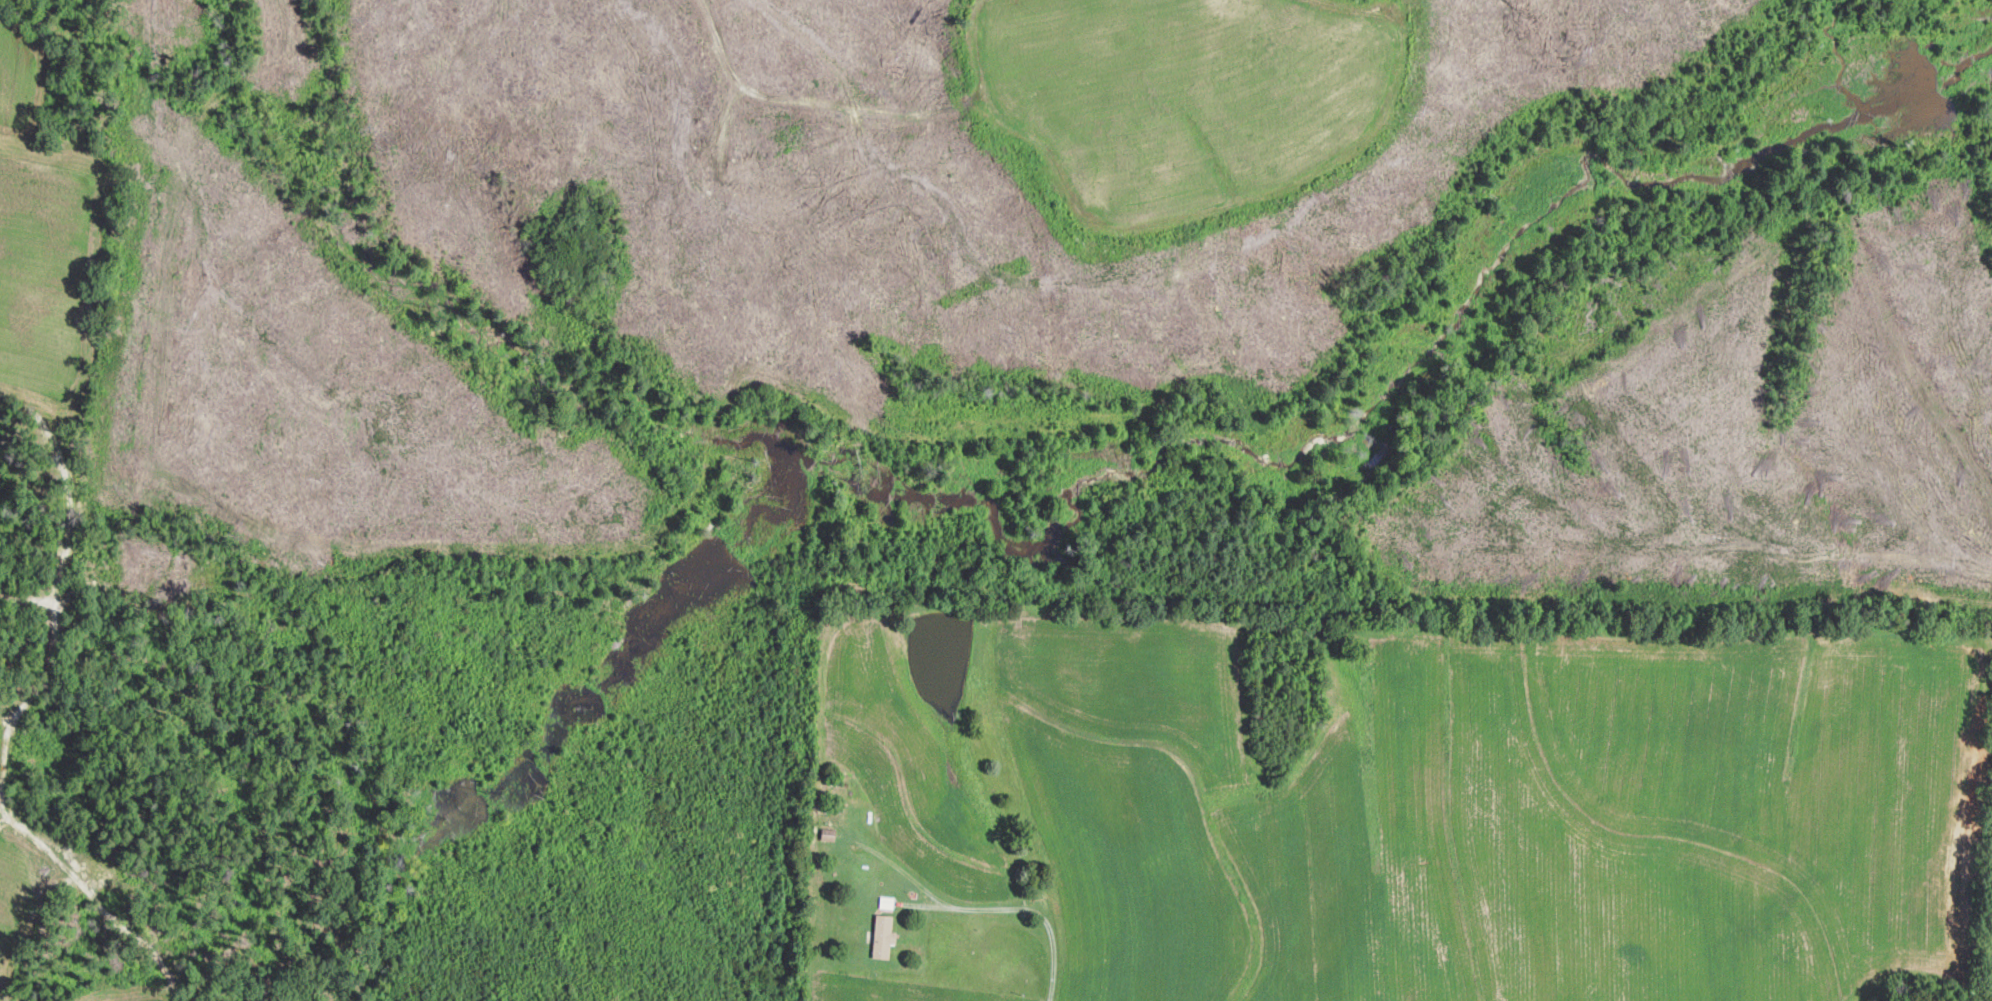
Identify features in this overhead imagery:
road: (1023, 908)
building: (886, 936)

